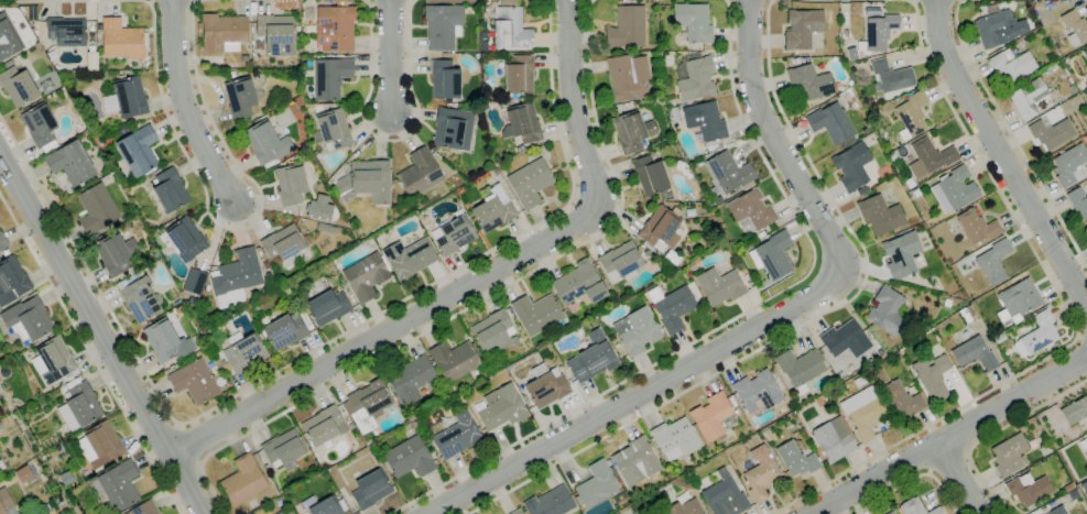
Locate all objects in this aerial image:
road: (569, 0)
road: (831, 0)
road: (936, 1)
building: (308, 13)
building: (693, 22)
building: (443, 25)
building: (511, 26)
building: (335, 28)
building: (627, 28)
building: (1075, 28)
building: (802, 29)
building: (998, 29)
building: (66, 32)
building: (880, 32)
building: (222, 33)
building: (276, 33)
building: (8, 39)
building: (121, 40)
building: (851, 54)
building: (1085, 54)
building: (243, 58)
road: (391, 58)
building: (8, 63)
building: (1012, 65)
building: (232, 75)
building: (519, 75)
building: (693, 76)
building: (892, 76)
building: (330, 77)
building: (628, 78)
building: (445, 79)
building: (809, 83)
building: (18, 86)
building: (654, 89)
building: (124, 97)
building: (240, 97)
building: (1031, 98)
building: (671, 103)
building: (1066, 105)
road: (184, 106)
building: (616, 107)
building: (912, 116)
building: (705, 121)
building: (522, 123)
building: (40, 124)
building: (833, 124)
building: (453, 127)
building: (333, 129)
building: (632, 131)
building: (863, 131)
road: (1011, 132)
building: (1051, 132)
building: (668, 136)
building: (1085, 139)
road: (392, 140)
building: (265, 143)
building: (520, 149)
building: (138, 151)
building: (892, 157)
building: (930, 157)
road: (1001, 157)
building: (70, 163)
building: (1069, 165)
building: (852, 166)
building: (420, 173)
building: (497, 174)
building: (727, 174)
building: (651, 177)
road: (200, 179)
building: (366, 182)
building: (530, 183)
building: (291, 185)
building: (954, 190)
building: (167, 192)
building: (914, 194)
building: (1078, 201)
building: (319, 208)
building: (97, 209)
building: (492, 209)
building: (751, 210)
building: (880, 215)
building: (977, 227)
building: (1086, 227)
building: (661, 228)
building: (208, 233)
building: (454, 233)
building: (761, 234)
building: (185, 240)
building: (2, 242)
building: (283, 242)
building: (650, 248)
building: (6, 252)
building: (646, 253)
building: (116, 254)
building: (772, 255)
building: (901, 255)
building: (673, 258)
building: (409, 259)
building: (621, 262)
building: (993, 262)
building: (265, 265)
building: (742, 271)
building: (236, 276)
building: (367, 276)
road: (477, 278)
building: (11, 281)
building: (194, 281)
building: (579, 284)
building: (719, 286)
building: (286, 291)
building: (139, 297)
road: (483, 298)
building: (193, 300)
building: (1018, 300)
building: (326, 305)
building: (178, 309)
building: (674, 309)
building: (887, 311)
building: (536, 313)
building: (28, 320)
road: (728, 321)
road: (1075, 321)
road: (803, 322)
road: (764, 324)
building: (284, 331)
building: (492, 331)
building: (637, 331)
road: (100, 336)
building: (1037, 336)
building: (845, 341)
building: (166, 342)
road: (1083, 343)
building: (7, 350)
road: (307, 351)
building: (244, 352)
road: (90, 353)
building: (975, 354)
building: (593, 358)
building: (53, 360)
building: (454, 360)
building: (800, 368)
building: (69, 378)
building: (933, 378)
building: (410, 379)
building: (862, 380)
building: (194, 381)
building: (546, 386)
building: (758, 391)
building: (826, 397)
building: (902, 398)
building: (733, 403)
building: (368, 404)
building: (79, 405)
building: (500, 408)
building: (737, 409)
building: (863, 412)
building: (1076, 413)
building: (711, 416)
building: (325, 425)
building: (1, 426)
road: (996, 431)
building: (457, 436)
building: (675, 438)
building: (1086, 438)
building: (834, 439)
road: (959, 441)
building: (101, 444)
road: (187, 445)
building: (283, 449)
building: (1044, 450)
building: (728, 452)
building: (1009, 455)
building: (1086, 455)
building: (410, 458)
building: (796, 459)
building: (633, 461)
road: (949, 461)
building: (2, 464)
building: (23, 473)
building: (760, 473)
building: (692, 474)
building: (243, 480)
road: (912, 480)
road: (965, 481)
building: (597, 484)
building: (119, 485)
building: (1084, 486)
building: (371, 489)
building: (1029, 490)
building: (725, 495)
building: (619, 499)
building: (4, 502)
building: (550, 502)
building: (279, 503)
building: (343, 505)
building: (326, 506)
building: (912, 506)
power tower: (63, 507)
building: (685, 507)
building: (144, 508)
building: (935, 511)
building: (1057, 511)
building: (287, 512)
building: (517, 512)
building: (280, 513)
building: (616, 513)
building: (890, 513)

